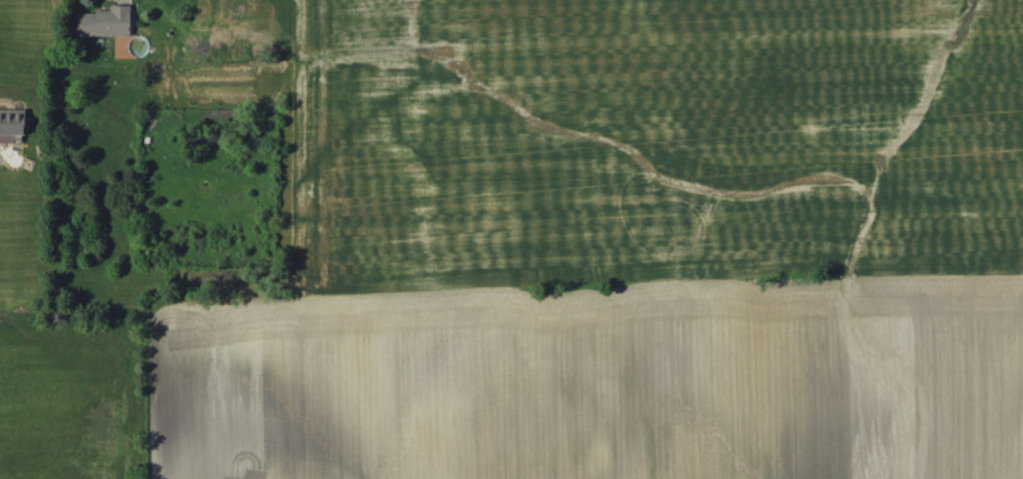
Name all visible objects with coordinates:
building: (104, 21)
building: (11, 123)

